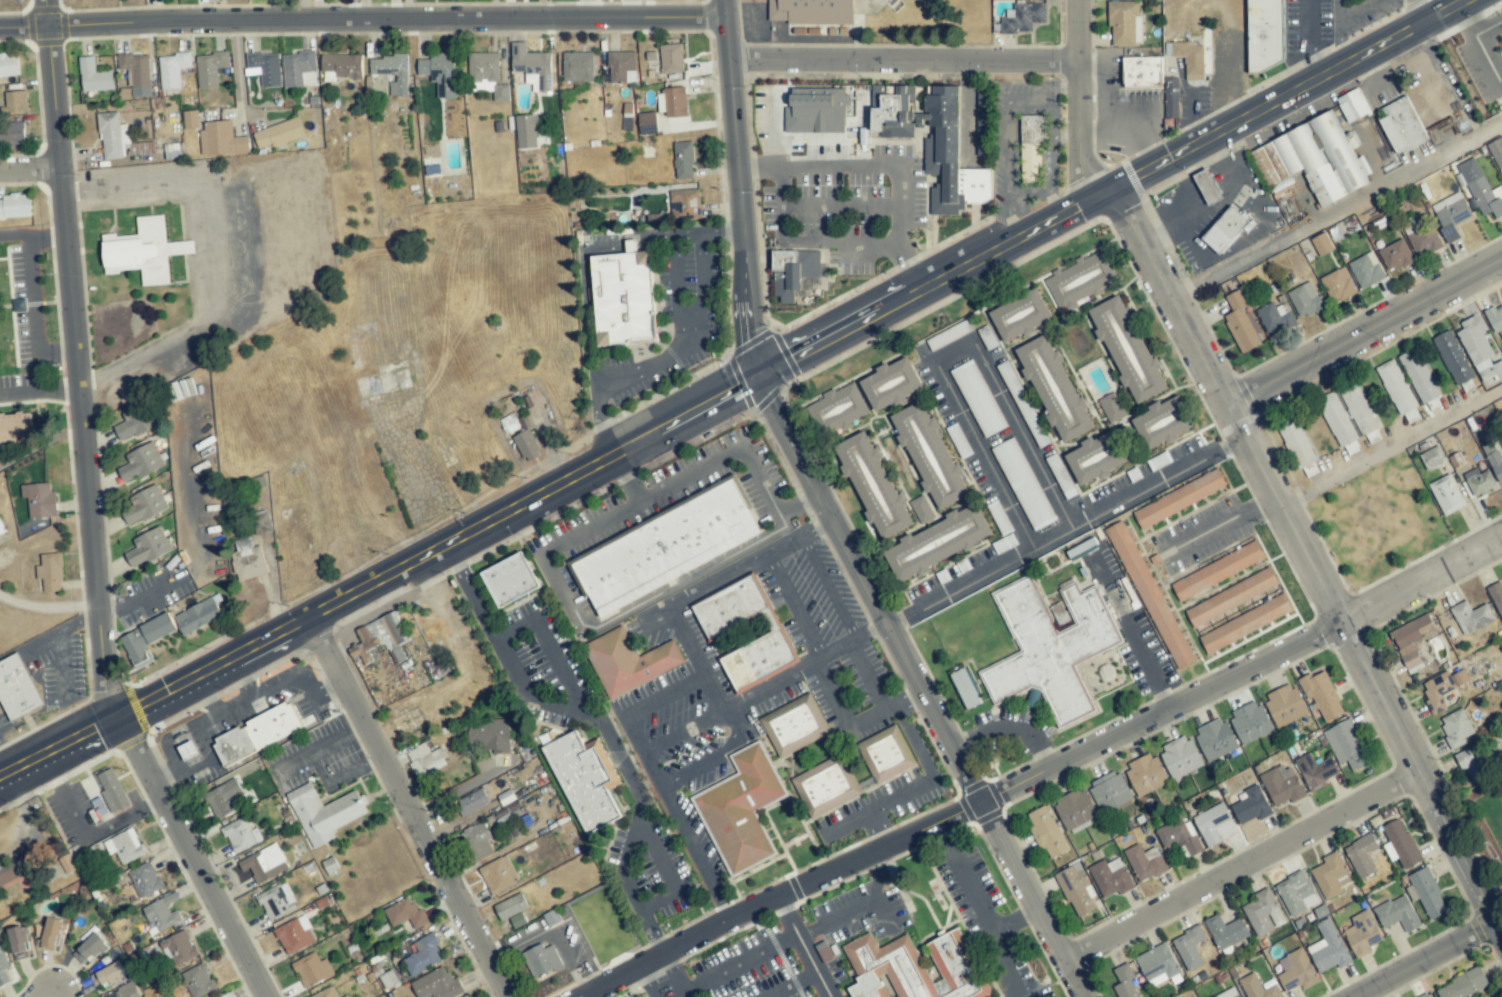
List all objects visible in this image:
road: (1338, 11)
road: (1361, 11)
building: (830, 12)
road: (1420, 14)
road: (362, 16)
building: (1024, 18)
building: (1124, 22)
building: (1265, 34)
road: (1308, 44)
road: (1340, 47)
building: (671, 58)
building: (1190, 59)
road: (903, 62)
building: (621, 64)
building: (8, 65)
building: (532, 65)
building: (577, 66)
building: (340, 67)
building: (265, 68)
building: (483, 68)
building: (209, 69)
road: (239, 69)
building: (298, 69)
building: (172, 70)
road: (973, 71)
building: (391, 72)
building: (439, 72)
building: (136, 73)
building: (1142, 73)
road: (1445, 73)
building: (94, 76)
road: (1062, 85)
building: (1171, 98)
road: (1019, 99)
building: (16, 101)
building: (674, 101)
road: (1079, 103)
building: (1352, 105)
building: (982, 108)
building: (816, 110)
building: (891, 112)
building: (190, 119)
road: (972, 121)
building: (647, 123)
building: (1401, 125)
building: (526, 131)
building: (12, 133)
building: (278, 133)
road: (1065, 135)
building: (112, 137)
building: (221, 139)
building: (1031, 148)
building: (1496, 152)
building: (949, 156)
building: (683, 160)
building: (1311, 160)
road: (881, 168)
road: (32, 174)
building: (1207, 186)
building: (1481, 189)
road: (739, 190)
building: (684, 202)
building: (15, 206)
road: (1336, 210)
building: (1450, 215)
road: (35, 231)
building: (1225, 231)
building: (1423, 241)
building: (1321, 244)
building: (141, 251)
building: (1395, 256)
road: (213, 260)
building: (1366, 270)
building: (793, 271)
building: (1079, 281)
building: (1337, 286)
road: (678, 289)
building: (624, 297)
building: (1305, 300)
building: (1020, 316)
building: (1274, 316)
road: (29, 319)
building: (1495, 319)
building: (1241, 323)
building: (953, 332)
road: (1364, 334)
road: (591, 346)
building: (1127, 349)
building: (1479, 352)
road: (953, 354)
building: (1452, 358)
road: (83, 360)
building: (1418, 375)
building: (890, 384)
building: (1054, 389)
road: (43, 391)
road: (737, 391)
building: (1398, 391)
building: (977, 398)
building: (841, 407)
building: (1112, 408)
building: (1359, 411)
building: (133, 423)
building: (508, 423)
building: (1163, 423)
road: (605, 424)
building: (1338, 425)
building: (16, 429)
building: (1296, 443)
building: (526, 444)
road: (1391, 449)
building: (928, 454)
building: (1432, 457)
building: (1095, 458)
building: (140, 462)
building: (1494, 463)
building: (1479, 482)
building: (1023, 484)
building: (873, 485)
building: (1446, 494)
building: (1179, 499)
building: (40, 500)
road: (797, 503)
building: (144, 505)
building: (922, 510)
building: (999, 518)
building: (262, 522)
road: (1222, 524)
building: (2, 528)
road: (1064, 530)
building: (937, 543)
building: (667, 547)
building: (147, 548)
road: (1308, 559)
building: (247, 560)
building: (1217, 571)
building: (50, 572)
building: (510, 580)
road: (667, 588)
building: (1149, 595)
road: (140, 596)
building: (1496, 597)
building: (1230, 598)
road: (47, 607)
building: (730, 607)
building: (197, 615)
building: (1471, 617)
building: (1245, 624)
road: (681, 632)
road: (1129, 633)
building: (379, 634)
building: (145, 639)
building: (1411, 641)
building: (1051, 646)
building: (757, 659)
building: (628, 661)
road: (239, 680)
building: (17, 688)
building: (964, 688)
road: (919, 689)
building: (1440, 689)
road: (718, 694)
road: (206, 696)
road: (904, 697)
building: (1322, 697)
road: (754, 699)
road: (233, 705)
building: (1284, 705)
road: (869, 716)
building: (1249, 722)
building: (793, 725)
road: (1007, 728)
building: (1455, 728)
road: (607, 731)
building: (257, 733)
building: (489, 735)
building: (549, 737)
building: (1215, 739)
building: (1345, 745)
building: (188, 750)
building: (885, 754)
building: (1179, 757)
building: (425, 760)
building: (1477, 764)
building: (1314, 771)
road: (1038, 772)
building: (1146, 774)
building: (585, 780)
building: (1282, 785)
building: (826, 786)
road: (917, 788)
building: (111, 790)
road: (456, 791)
building: (1109, 792)
building: (223, 799)
building: (472, 802)
building: (1251, 806)
road: (408, 808)
building: (742, 810)
building: (1074, 811)
building: (323, 813)
building: (1214, 825)
road: (878, 827)
road: (100, 828)
building: (1045, 832)
building: (239, 835)
building: (1179, 836)
building: (478, 841)
building: (1401, 843)
building: (125, 846)
road: (695, 851)
building: (1361, 855)
road: (622, 857)
road: (192, 858)
building: (1144, 863)
building: (260, 865)
road: (1242, 866)
building: (11, 870)
road: (877, 871)
building: (498, 875)
building: (1331, 876)
building: (1110, 877)
building: (144, 879)
building: (1076, 890)
building: (1427, 893)
building: (1296, 894)
building: (276, 901)
building: (512, 909)
building: (161, 913)
road: (786, 913)
building: (1263, 913)
building: (405, 914)
road: (834, 914)
building: (1397, 914)
building: (1225, 933)
building: (49, 934)
building: (1361, 934)
building: (294, 935)
building: (18, 943)
parking lot: (789, 946)
building: (88, 948)
building: (178, 948)
building: (1189, 948)
building: (1328, 949)
building: (422, 955)
road: (1428, 959)
building: (541, 960)
road: (739, 962)
building: (1157, 965)
building: (2, 966)
building: (914, 968)
building: (311, 970)
building: (1296, 971)
road: (673, 973)
building: (107, 975)
building: (388, 979)
road: (644, 980)
building: (197, 981)
building: (1124, 983)
building: (437, 985)
building: (1463, 985)
building: (1258, 987)
road: (46, 991)
building: (124, 992)
building: (327, 993)
building: (1228, 993)
building: (230, 995)
building: (345, 996)
building: (466, 996)
building: (1426, 996)

